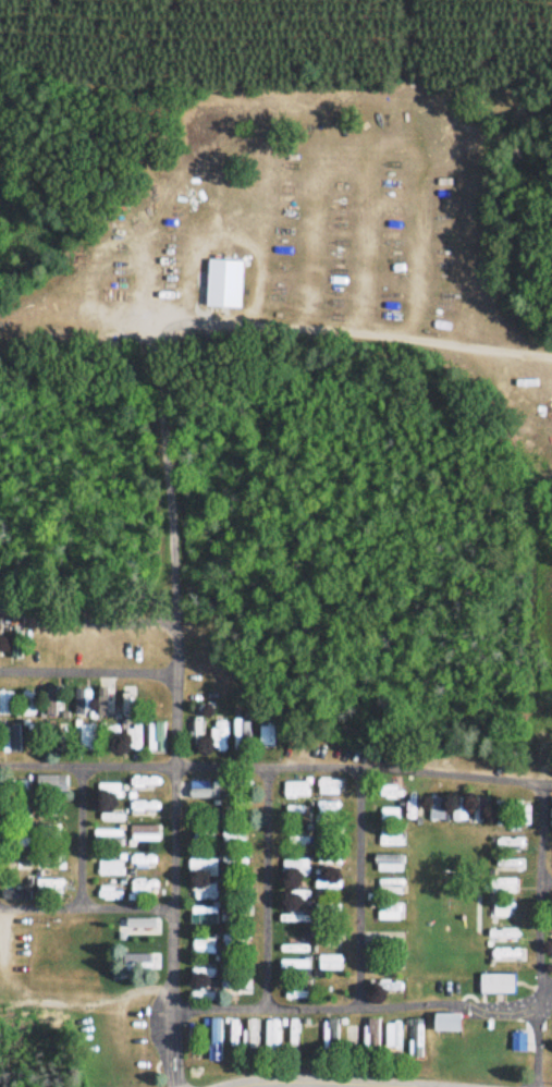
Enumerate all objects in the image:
building: (220, 284)
road: (95, 589)
road: (86, 669)
road: (361, 679)
building: (27, 704)
building: (240, 731)
building: (196, 732)
building: (156, 736)
building: (133, 737)
road: (99, 747)
building: (331, 786)
building: (296, 789)
building: (144, 790)
building: (387, 793)
building: (434, 809)
building: (458, 809)
building: (205, 811)
building: (478, 811)
building: (520, 815)
building: (392, 819)
road: (85, 822)
building: (49, 833)
building: (389, 838)
building: (505, 844)
building: (137, 862)
building: (389, 863)
building: (48, 864)
building: (503, 865)
building: (108, 867)
road: (171, 877)
building: (48, 886)
building: (502, 887)
building: (139, 888)
building: (201, 892)
building: (390, 911)
building: (551, 913)
building: (203, 915)
building: (293, 917)
building: (136, 925)
building: (203, 945)
building: (551, 946)
building: (131, 960)
building: (330, 963)
building: (493, 985)
building: (440, 1024)
building: (230, 1035)
building: (414, 1039)
building: (211, 1040)
building: (391, 1040)
road: (297, 1082)

